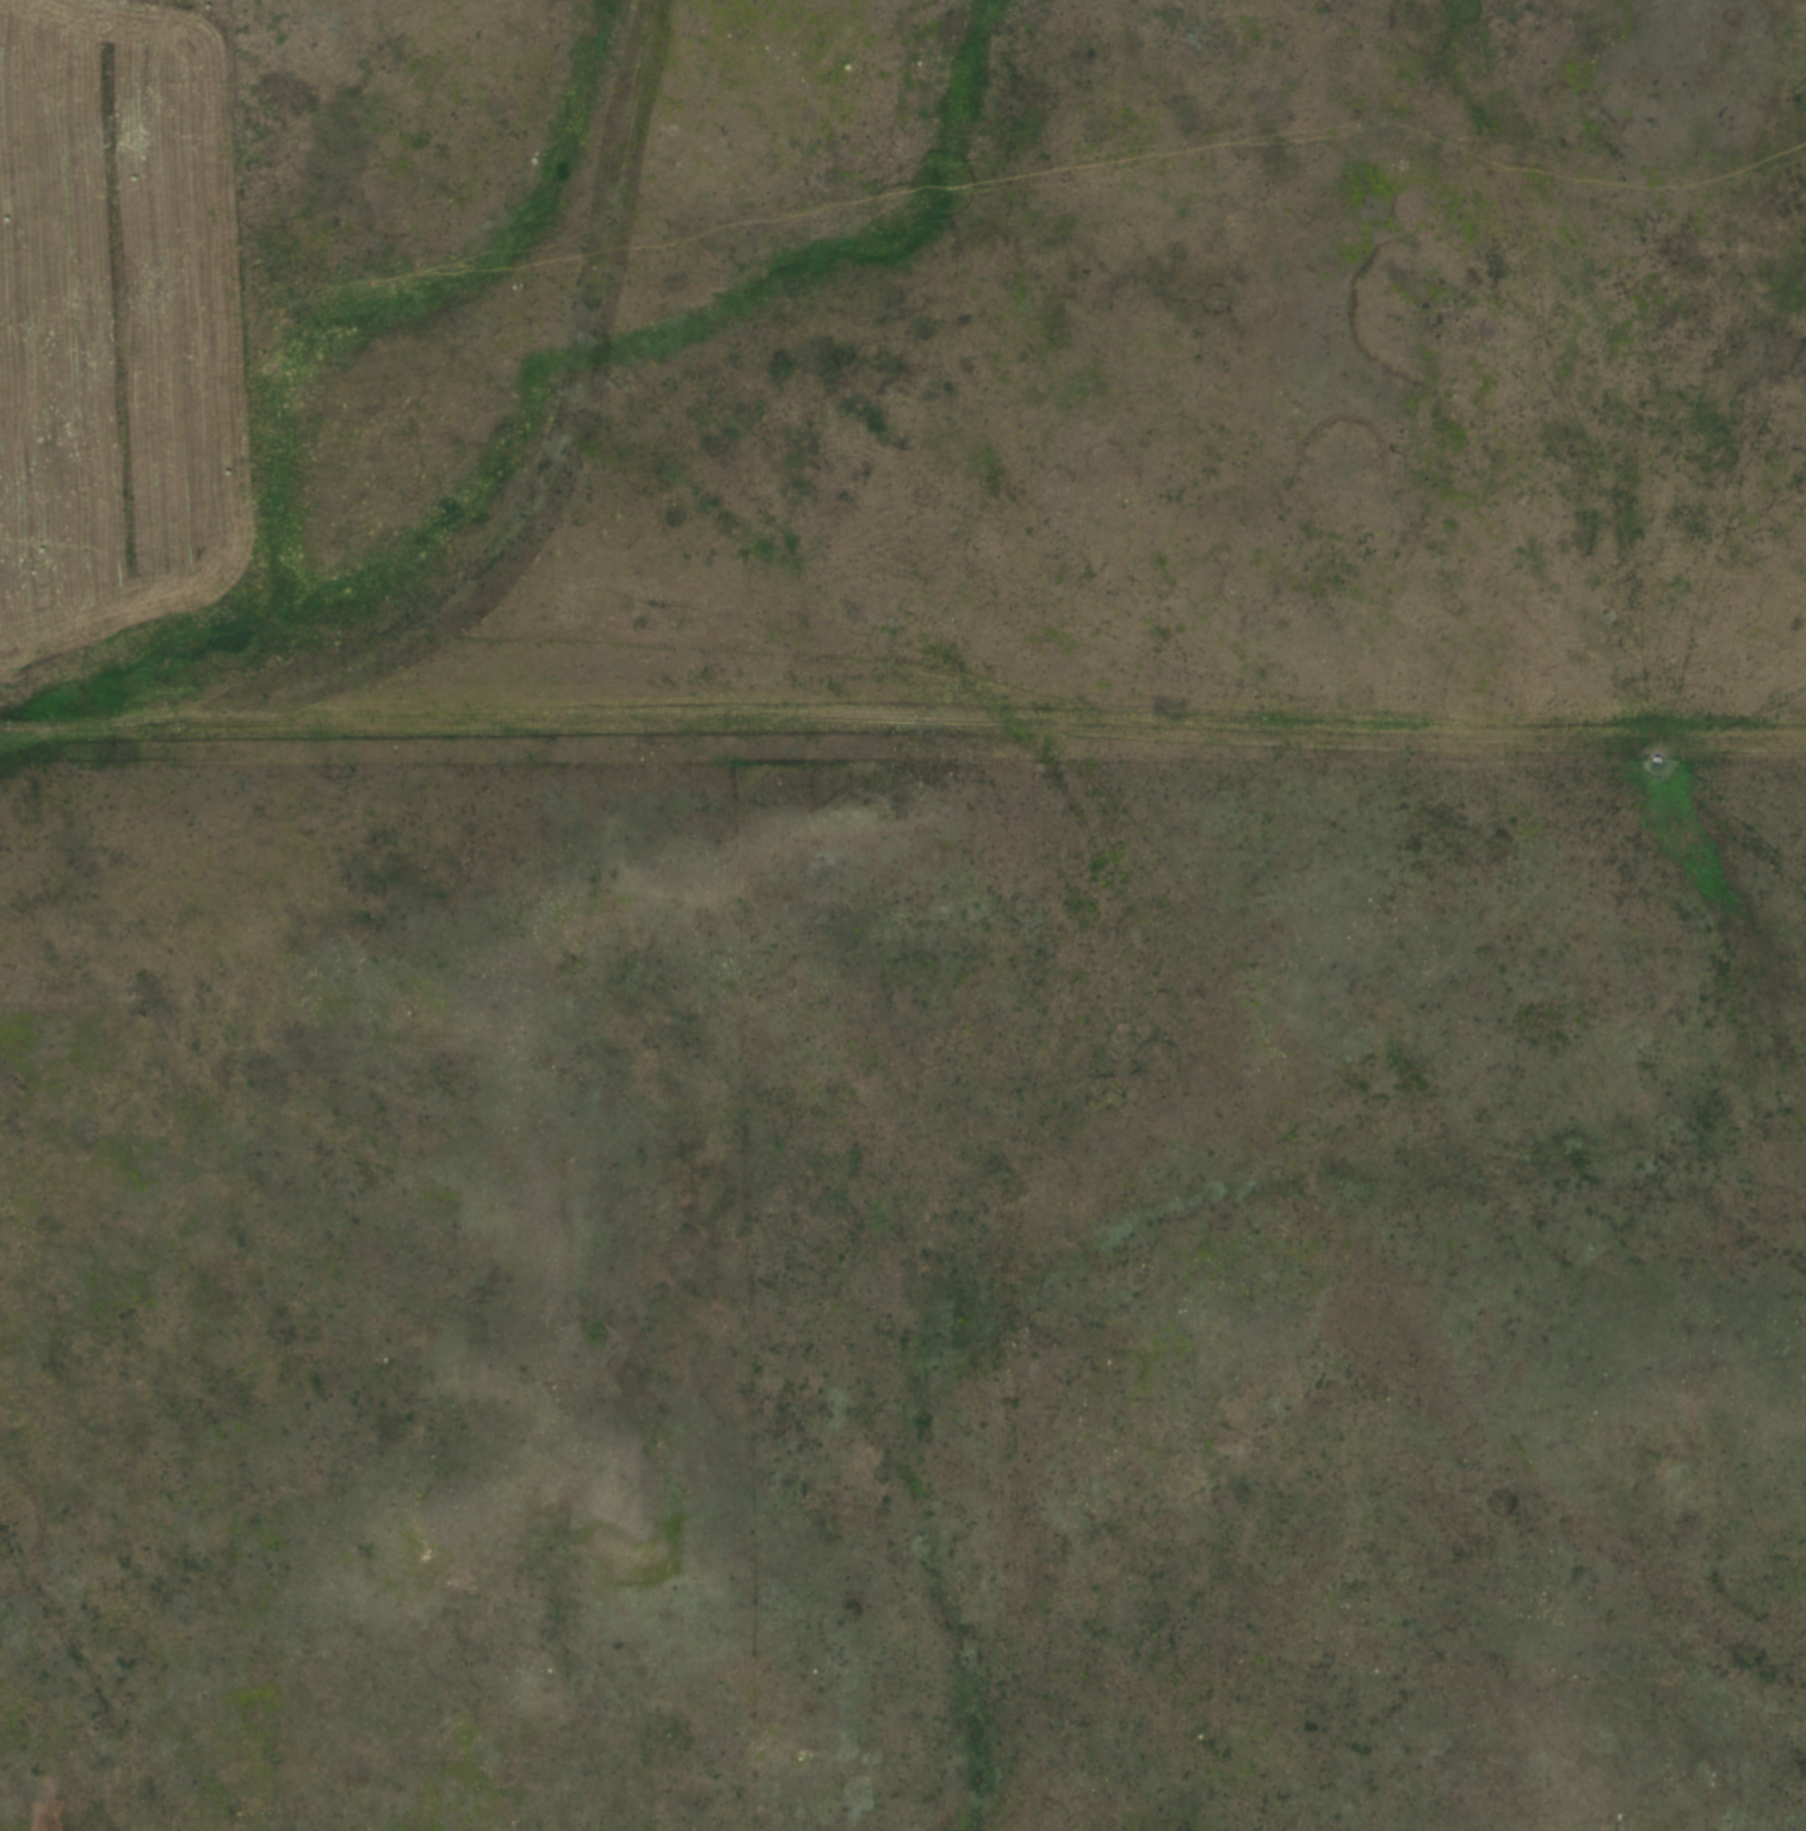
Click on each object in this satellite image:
road: (902, 724)

